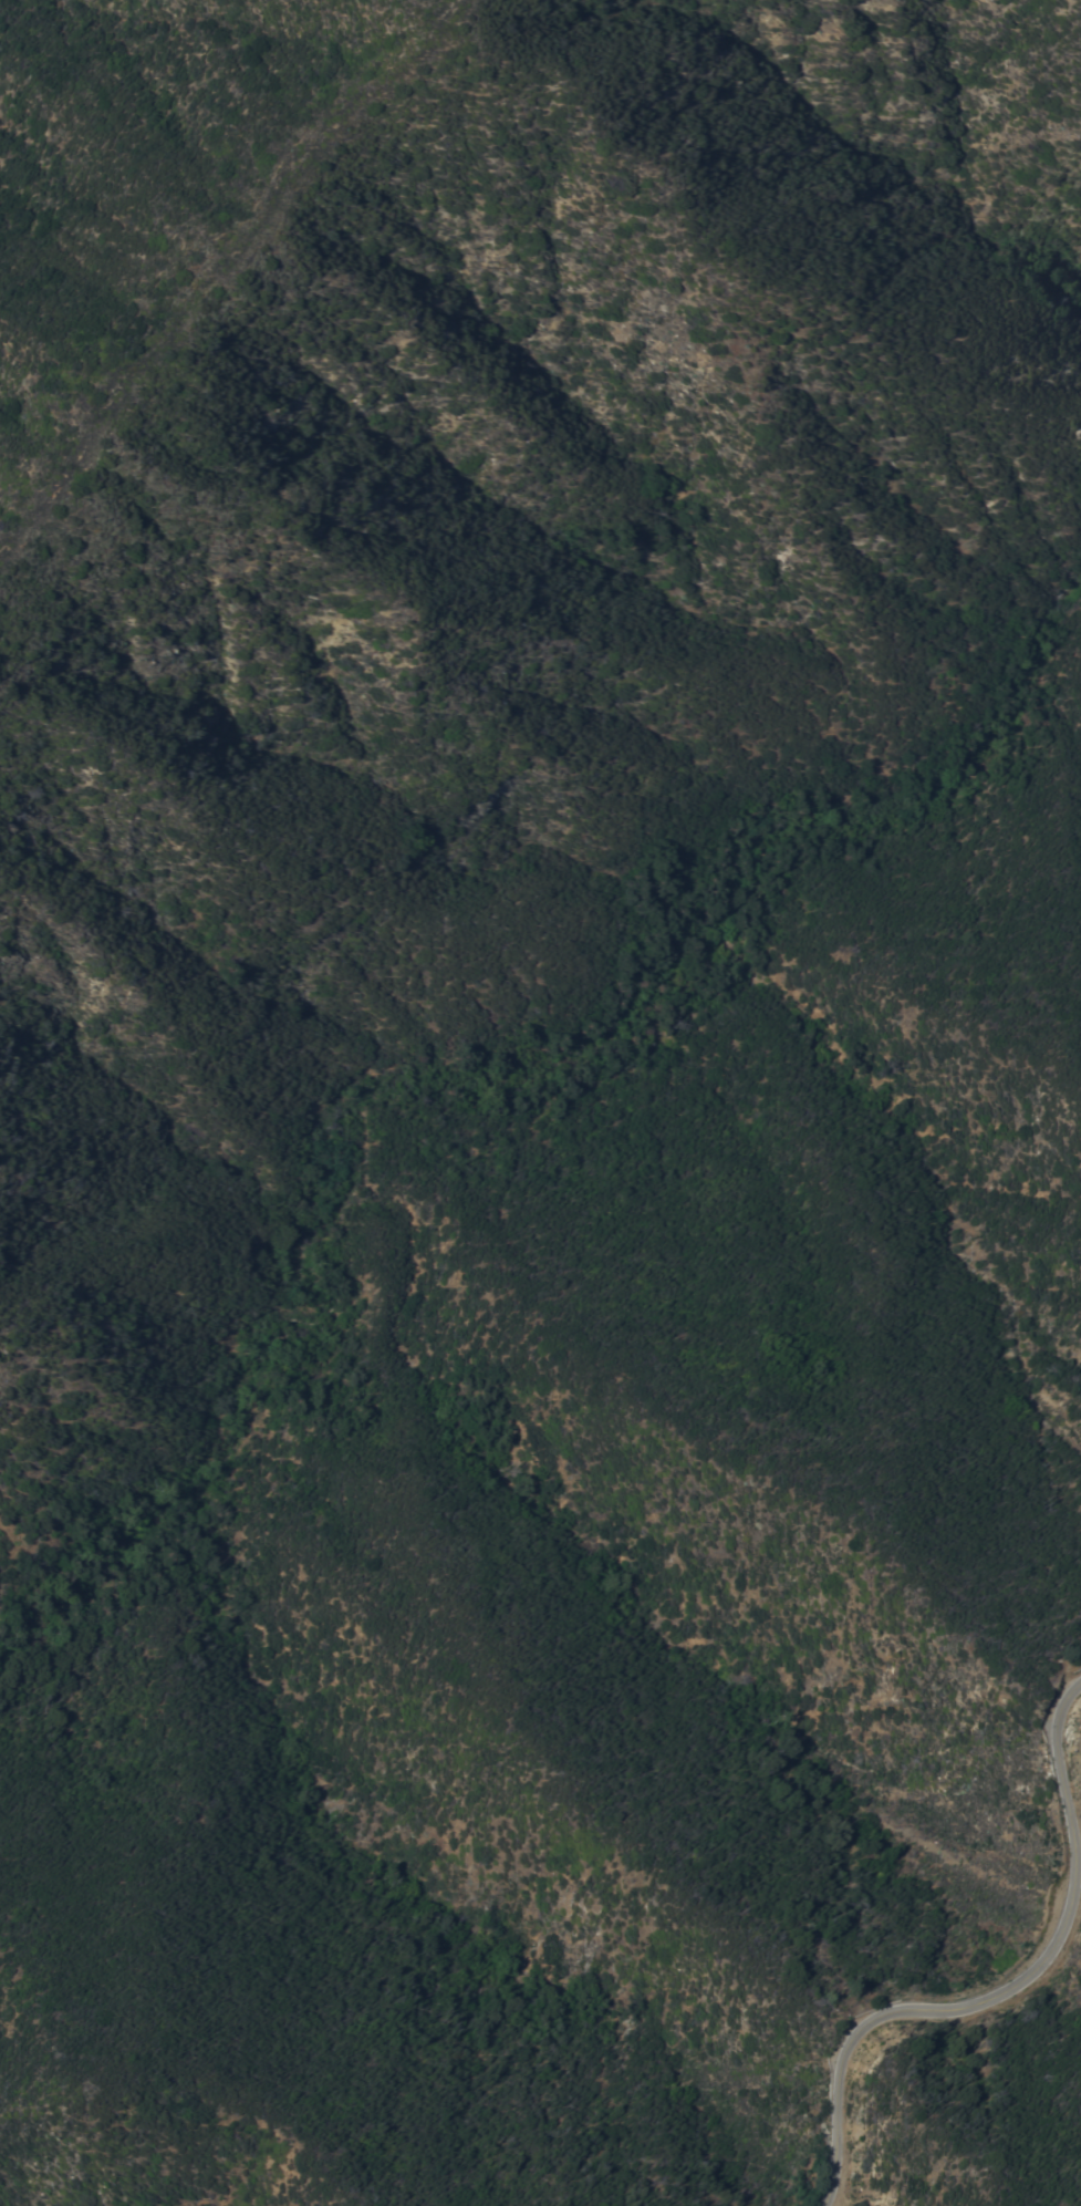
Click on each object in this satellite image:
road: (1009, 1991)

